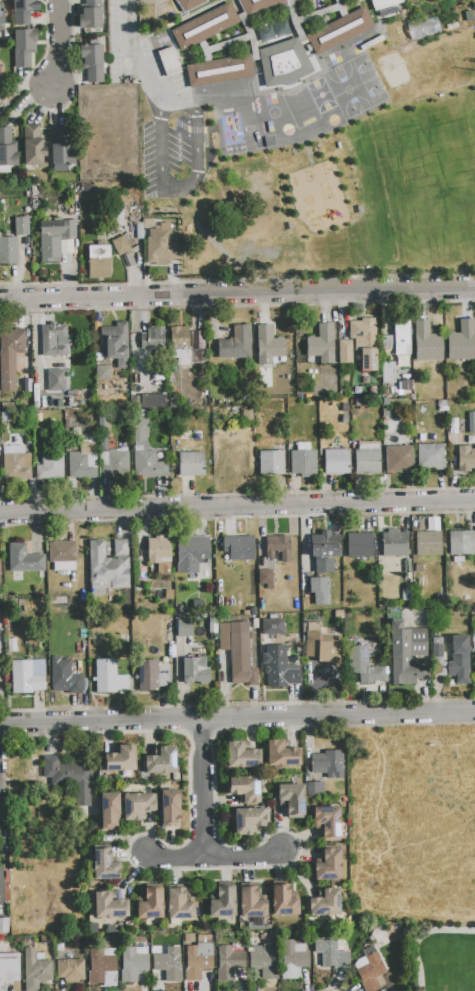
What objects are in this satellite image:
building: (303, 1)
building: (189, 4)
building: (384, 4)
building: (259, 6)
building: (23, 11)
building: (90, 15)
building: (1, 18)
building: (204, 26)
building: (272, 30)
building: (340, 31)
road: (62, 43)
building: (23, 47)
building: (168, 61)
building: (92, 63)
building: (284, 63)
road: (139, 65)
building: (220, 71)
building: (33, 145)
building: (7, 149)
building: (61, 149)
road: (178, 166)
park: (433, 176)
building: (21, 224)
building: (54, 237)
building: (121, 246)
building: (161, 246)
building: (8, 251)
building: (98, 261)
road: (237, 295)
building: (362, 329)
building: (155, 337)
building: (178, 338)
building: (402, 338)
building: (196, 340)
building: (53, 341)
building: (462, 341)
building: (426, 342)
building: (118, 343)
building: (236, 344)
building: (322, 344)
building: (268, 345)
building: (345, 352)
building: (9, 357)
building: (368, 359)
building: (388, 372)
building: (103, 373)
building: (57, 380)
building: (153, 401)
building: (386, 402)
building: (344, 407)
building: (385, 413)
building: (247, 415)
building: (75, 417)
building: (103, 419)
building: (345, 419)
building: (141, 433)
building: (399, 454)
building: (430, 454)
building: (466, 459)
building: (303, 460)
building: (337, 461)
building: (13, 462)
building: (232, 462)
building: (271, 462)
building: (367, 462)
building: (192, 464)
building: (114, 465)
building: (148, 465)
building: (50, 466)
building: (77, 466)
road: (237, 506)
building: (394, 543)
building: (461, 543)
building: (428, 544)
building: (359, 545)
building: (283, 547)
building: (239, 548)
building: (158, 550)
building: (325, 551)
building: (191, 554)
building: (63, 555)
building: (24, 559)
building: (108, 567)
building: (167, 573)
building: (264, 576)
building: (370, 579)
building: (409, 588)
building: (40, 589)
building: (319, 591)
building: (16, 623)
building: (213, 624)
building: (272, 626)
building: (184, 627)
building: (322, 647)
building: (437, 647)
building: (171, 651)
building: (237, 652)
building: (406, 653)
building: (459, 660)
building: (364, 667)
building: (196, 671)
building: (277, 671)
building: (474, 674)
building: (147, 675)
building: (28, 676)
building: (64, 677)
building: (109, 677)
road: (237, 719)
building: (282, 755)
building: (241, 756)
building: (121, 759)
building: (160, 761)
building: (328, 763)
building: (24, 768)
building: (69, 777)
road: (204, 789)
building: (246, 789)
building: (314, 789)
building: (291, 798)
building: (137, 805)
building: (169, 807)
building: (110, 811)
building: (249, 820)
building: (327, 822)
road: (1, 838)
road: (217, 857)
building: (104, 865)
building: (328, 865)
building: (283, 901)
building: (223, 902)
building: (252, 903)
building: (323, 903)
building: (151, 904)
building: (178, 905)
building: (110, 906)
building: (4, 926)
road: (419, 936)
building: (188, 938)
building: (44, 939)
building: (332, 954)
building: (198, 958)
building: (293, 958)
building: (265, 960)
park: (445, 960)
building: (133, 962)
building: (228, 963)
building: (168, 964)
park: (449, 964)
building: (103, 967)
building: (369, 969)
building: (9, 970)
building: (35, 970)
building: (70, 970)

